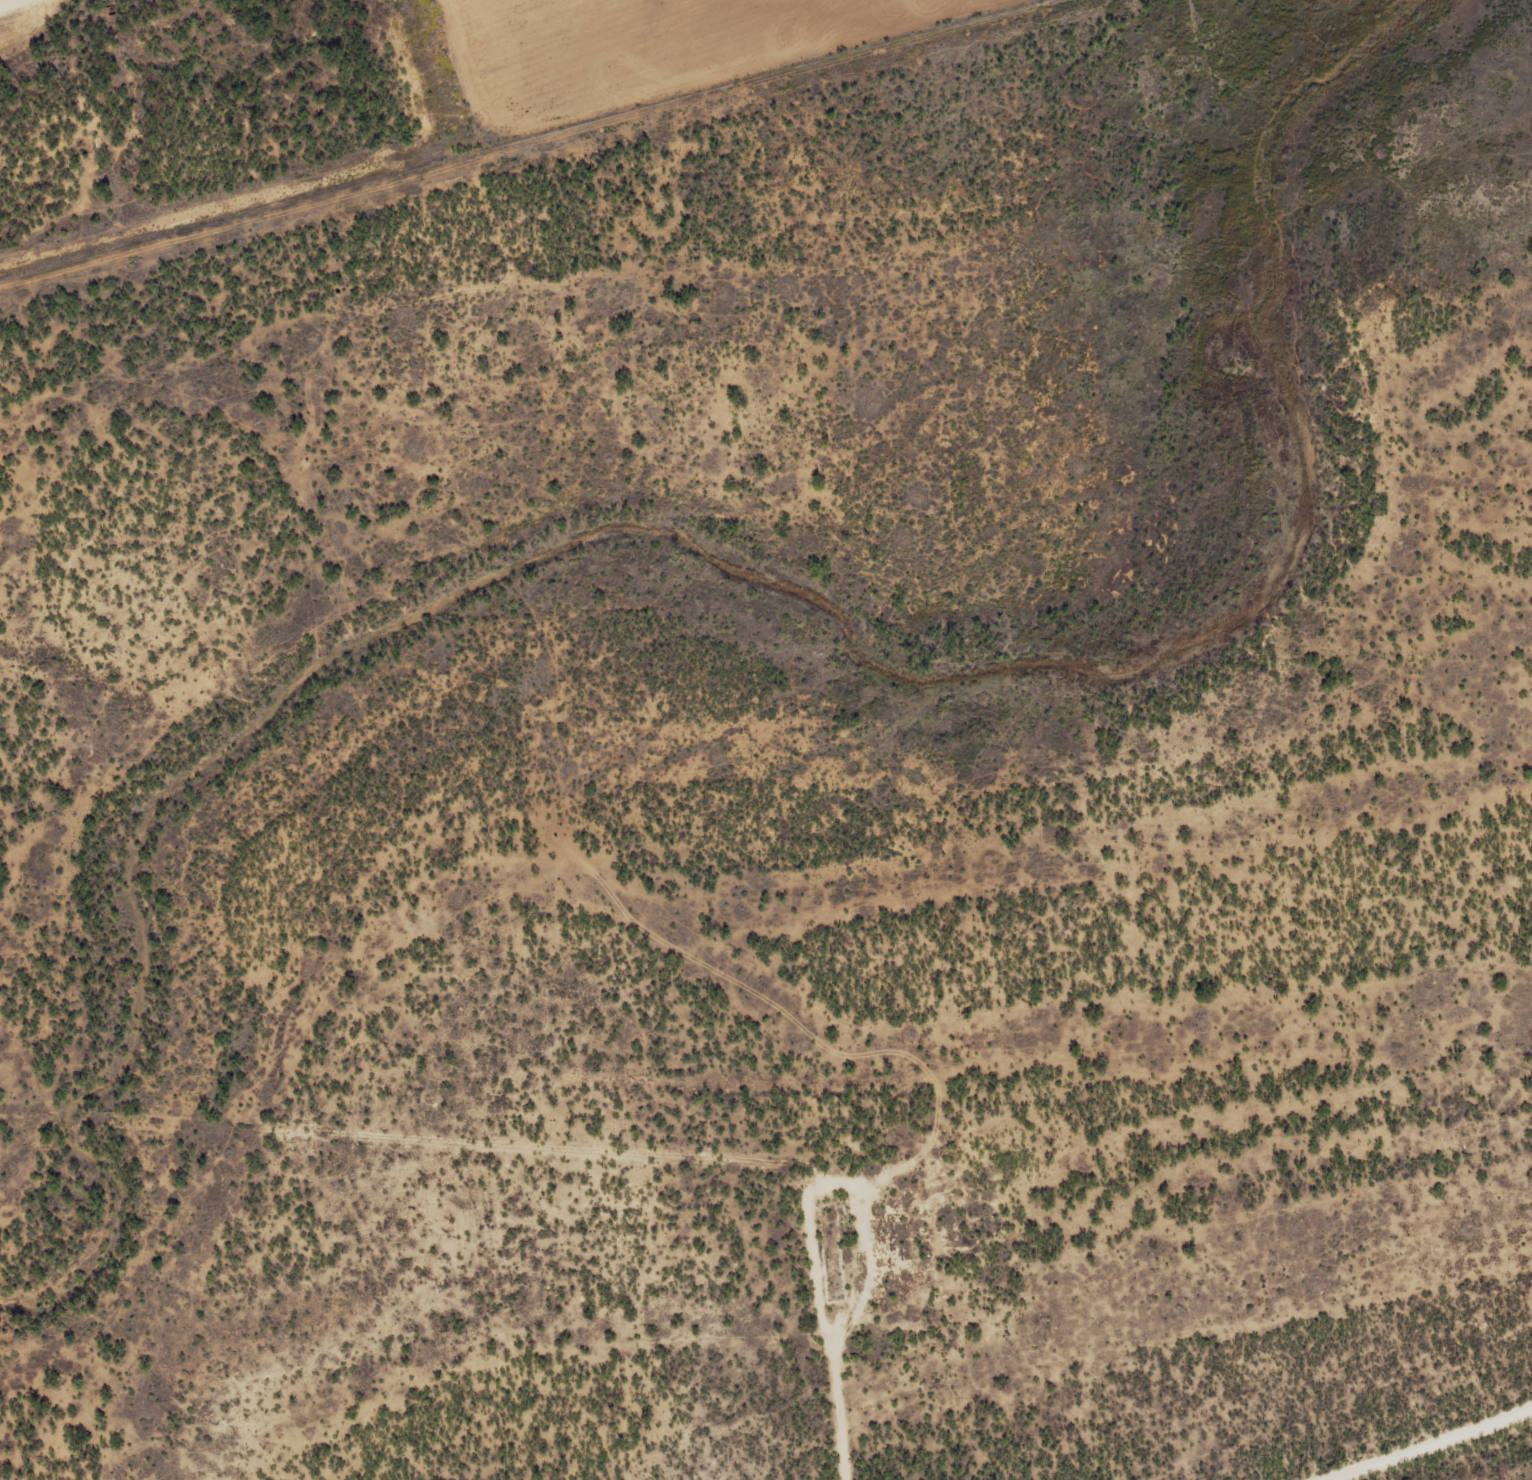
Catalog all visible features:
road: (1424, 1444)

